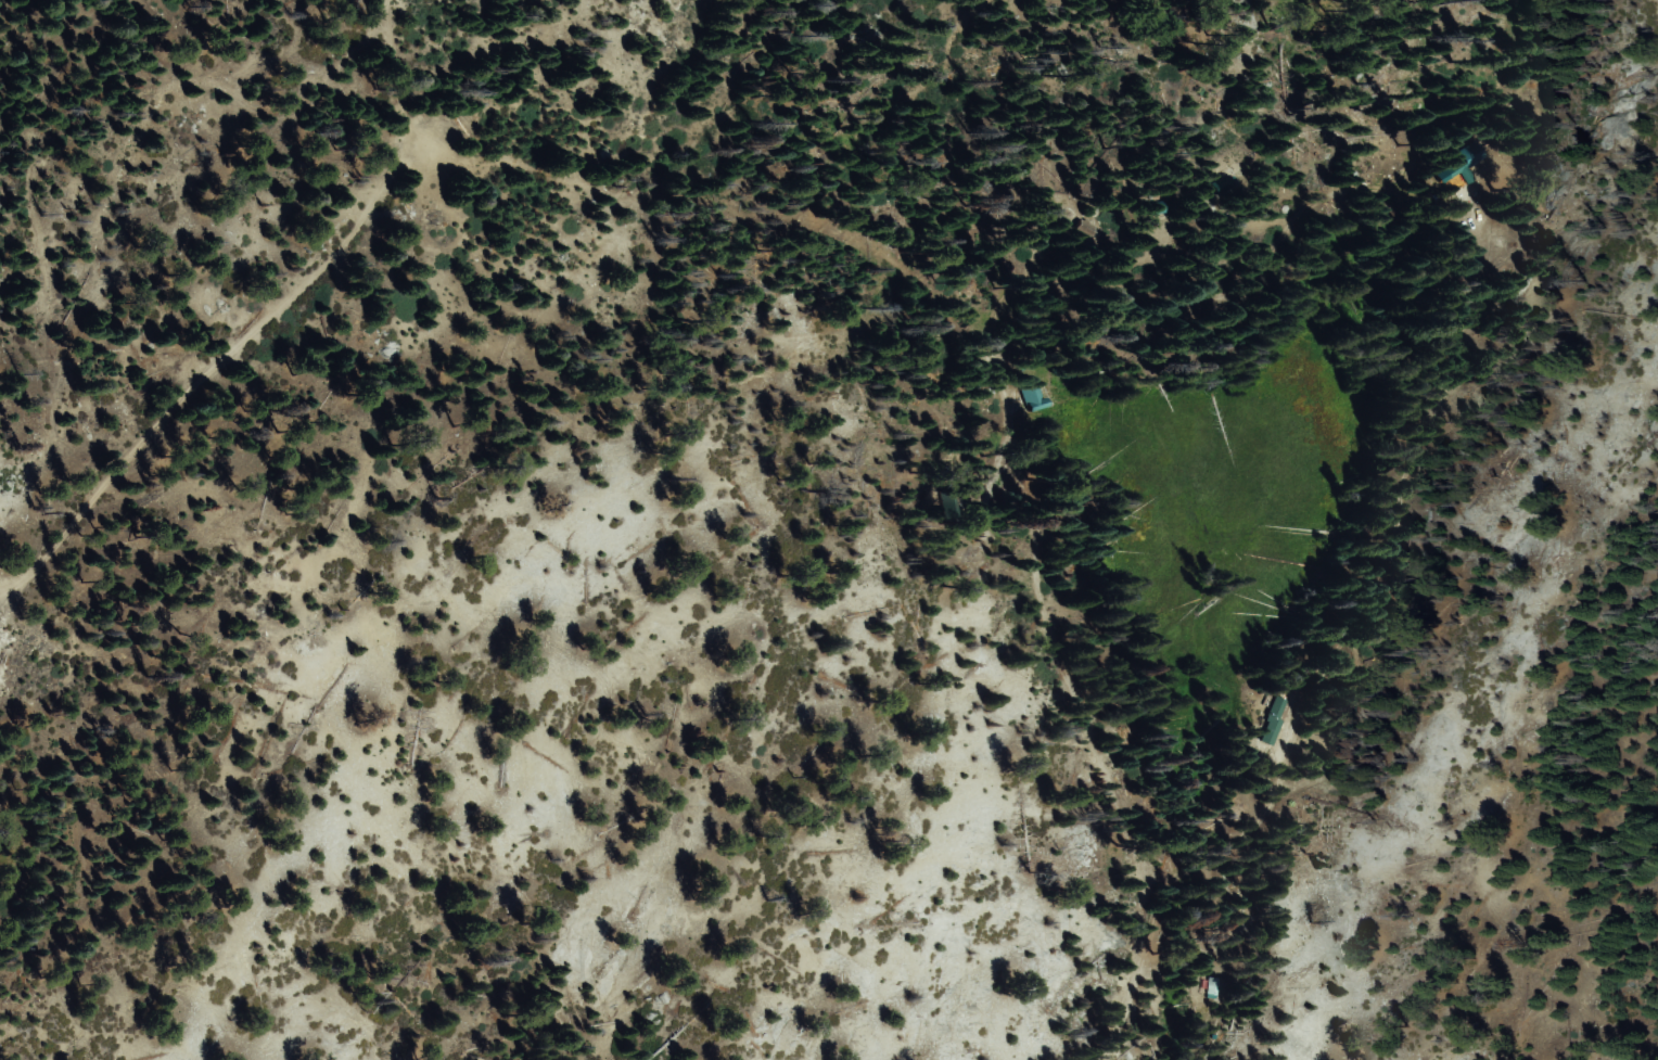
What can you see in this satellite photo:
building: (1463, 164)
road: (292, 296)
road: (1210, 301)
building: (1032, 396)
building: (1271, 721)
road: (1130, 980)

